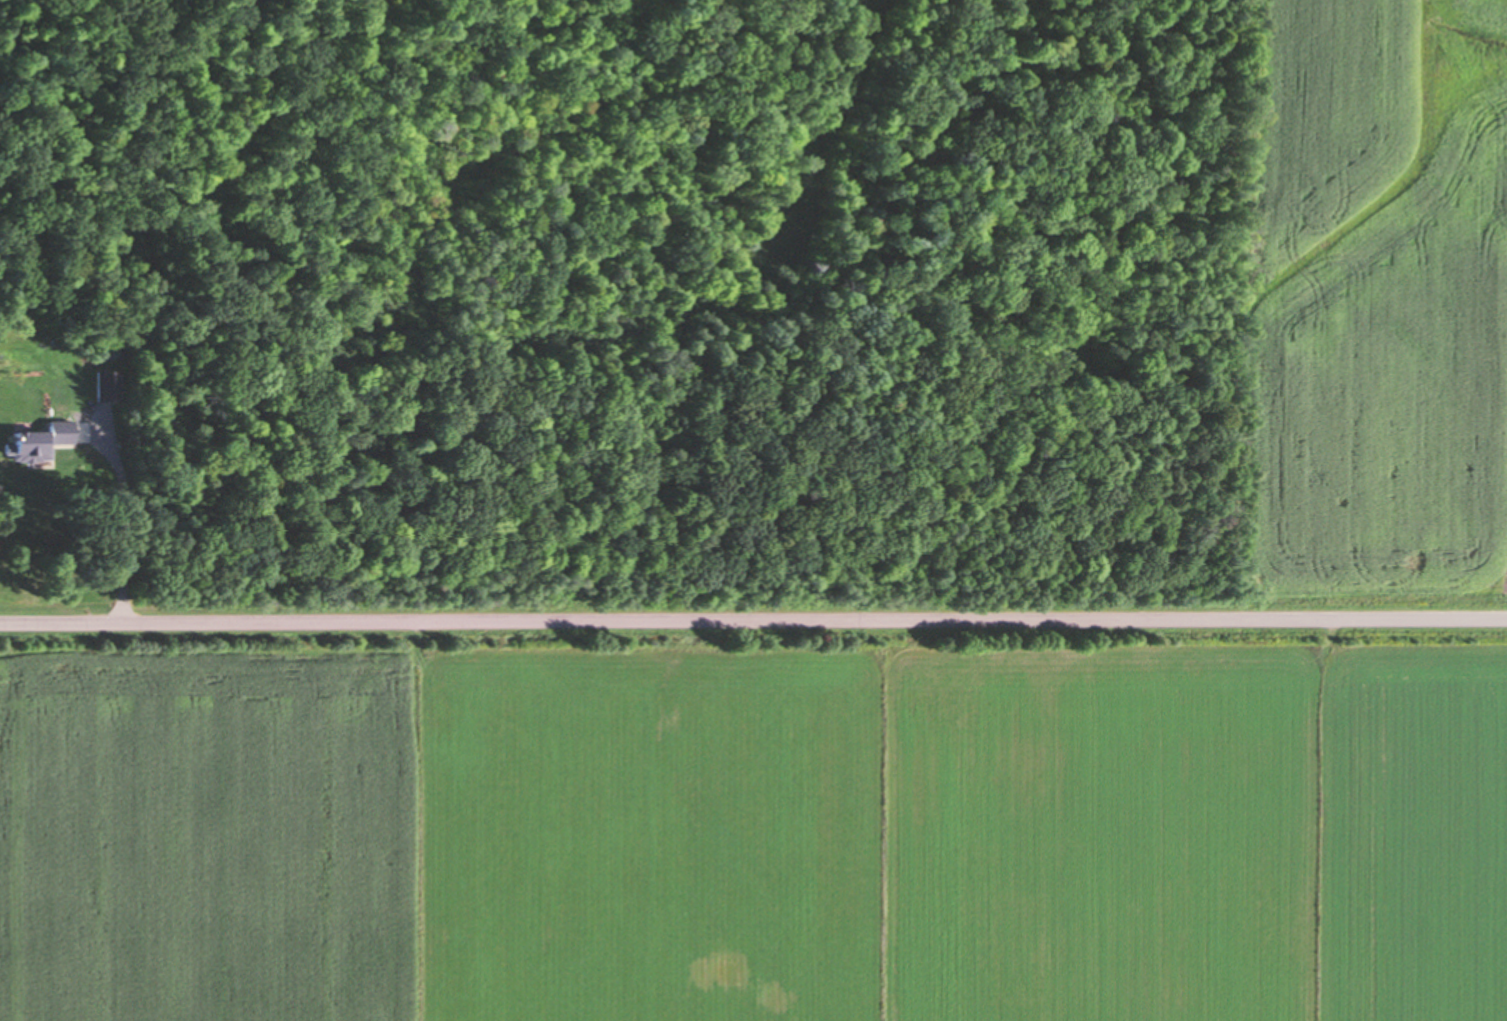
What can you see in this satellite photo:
building: (107, 385)
building: (34, 441)
road: (753, 622)

